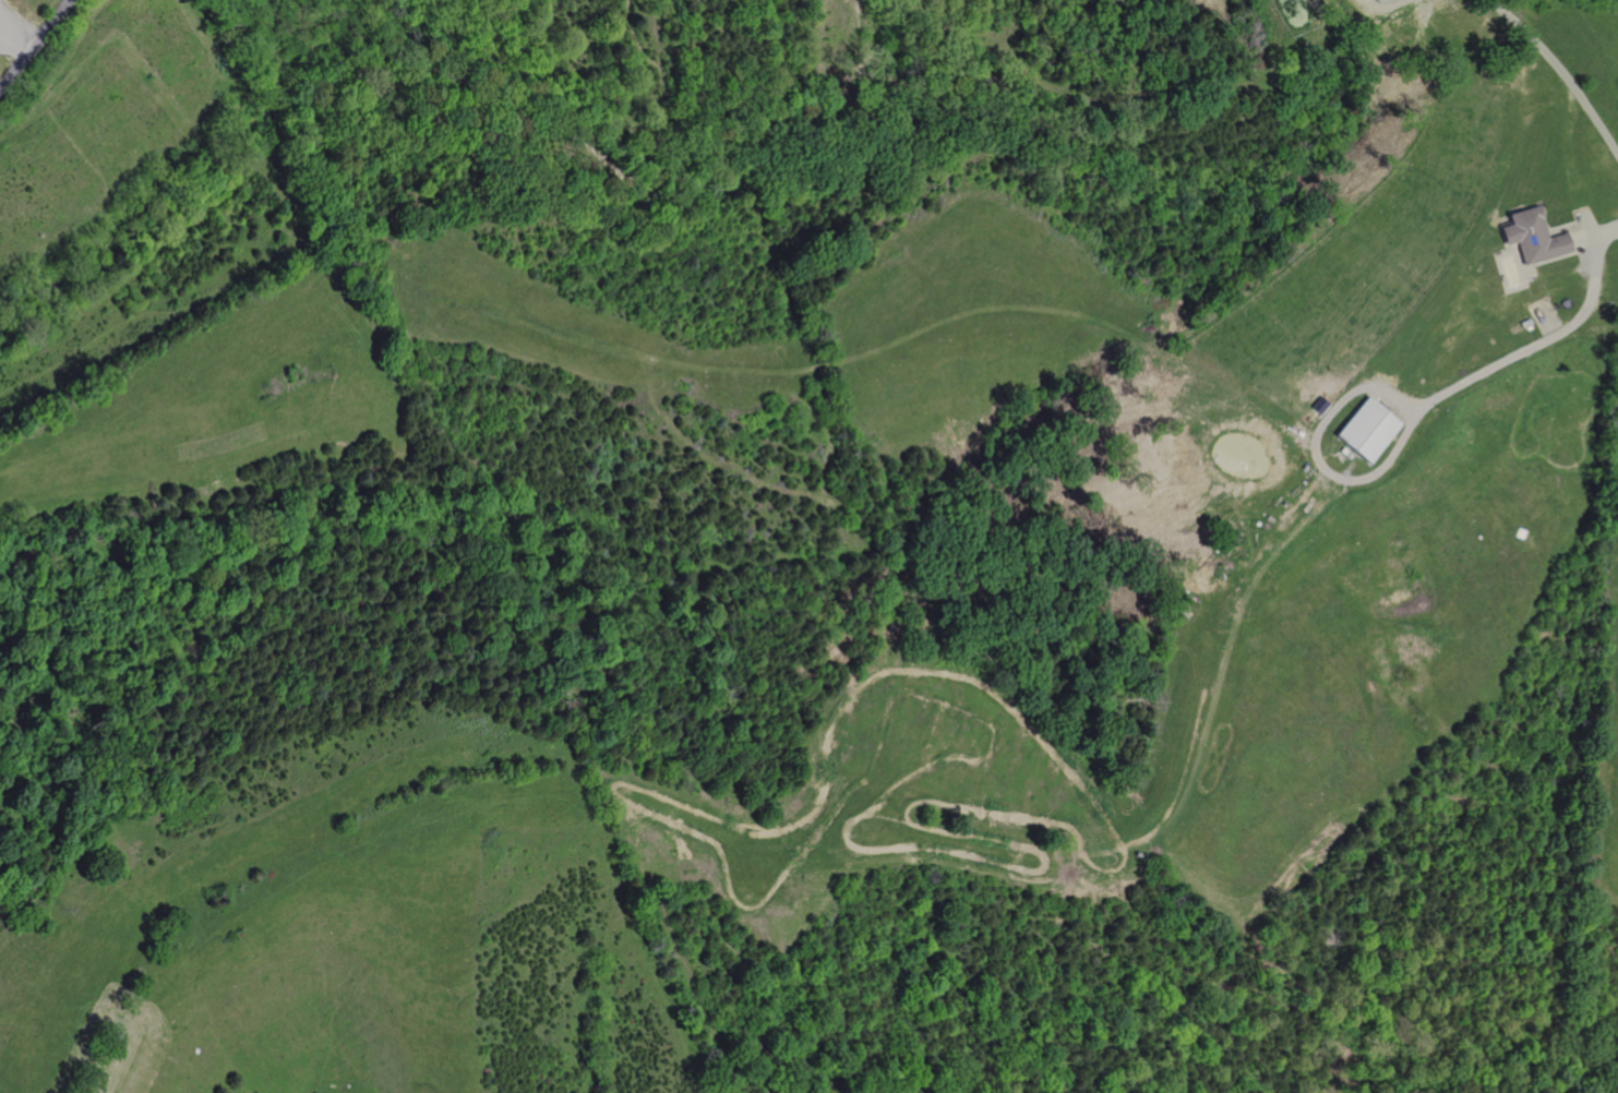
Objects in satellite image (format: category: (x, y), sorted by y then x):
building: (1373, 0)
building: (1380, 0)
road: (1395, 3)
road: (3, 24)
road: (16, 29)
road: (34, 44)
road: (1562, 73)
road: (1583, 225)
road: (1554, 227)
building: (1531, 236)
road: (1580, 239)
road: (1566, 253)
road: (1555, 257)
building: (1524, 322)
road: (1546, 339)
building: (1318, 406)
building: (1366, 430)
building: (1344, 453)
road: (1315, 455)
road: (999, 869)

